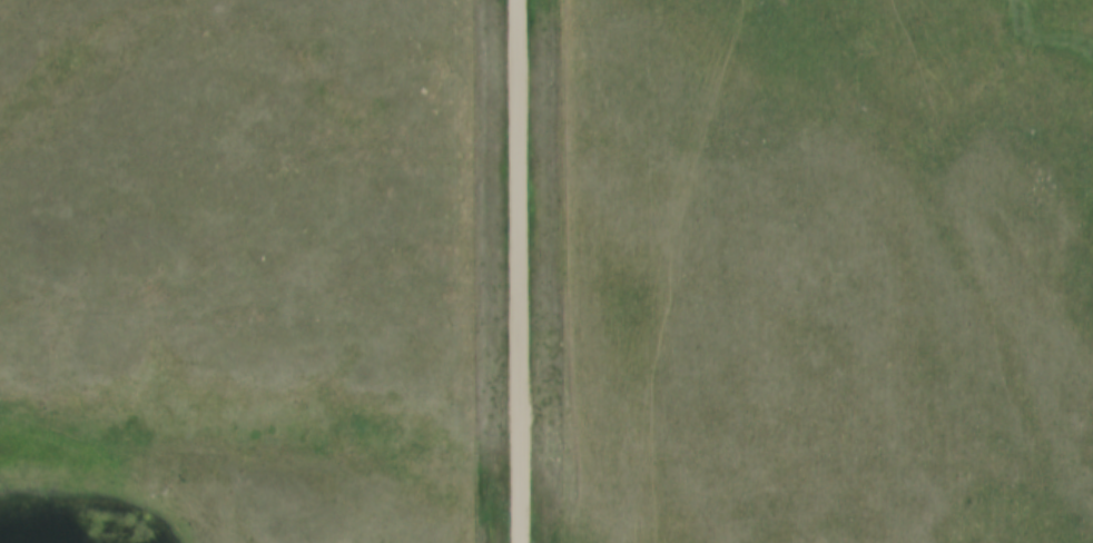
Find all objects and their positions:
road: (514, 271)

